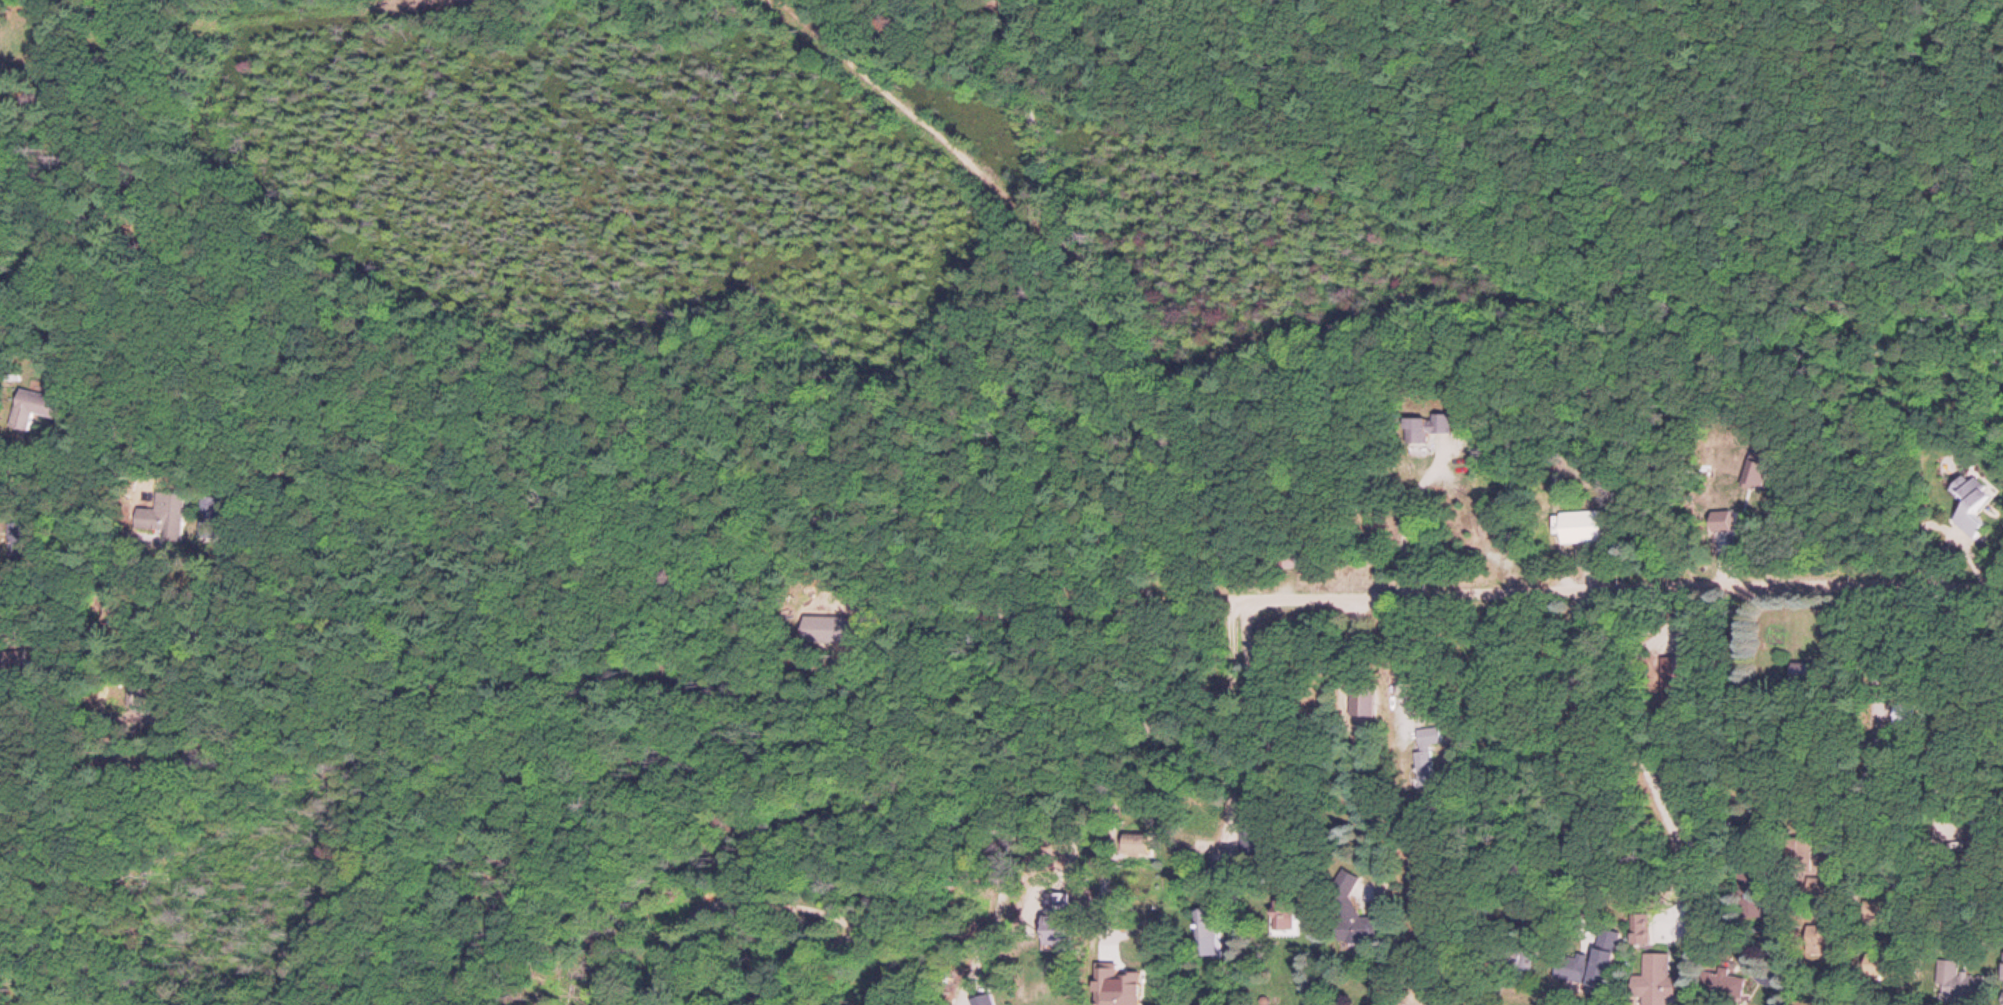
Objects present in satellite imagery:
road: (96, 175)
building: (33, 404)
building: (1426, 430)
building: (1974, 508)
building: (161, 514)
building: (1582, 529)
road: (86, 540)
building: (1286, 560)
road: (1613, 588)
road: (1140, 603)
road: (198, 626)
road: (88, 701)
road: (1737, 717)
road: (1881, 720)
road: (1226, 732)
road: (1258, 741)
road: (1355, 744)
road: (1575, 749)
road: (1642, 749)
building: (1428, 754)
road: (1491, 754)
road: (1403, 770)
road: (229, 823)
road: (1941, 836)
building: (1749, 887)
building: (1752, 908)
building: (1349, 915)
building: (1642, 937)
building: (1653, 981)
building: (1958, 985)
building: (1727, 986)

